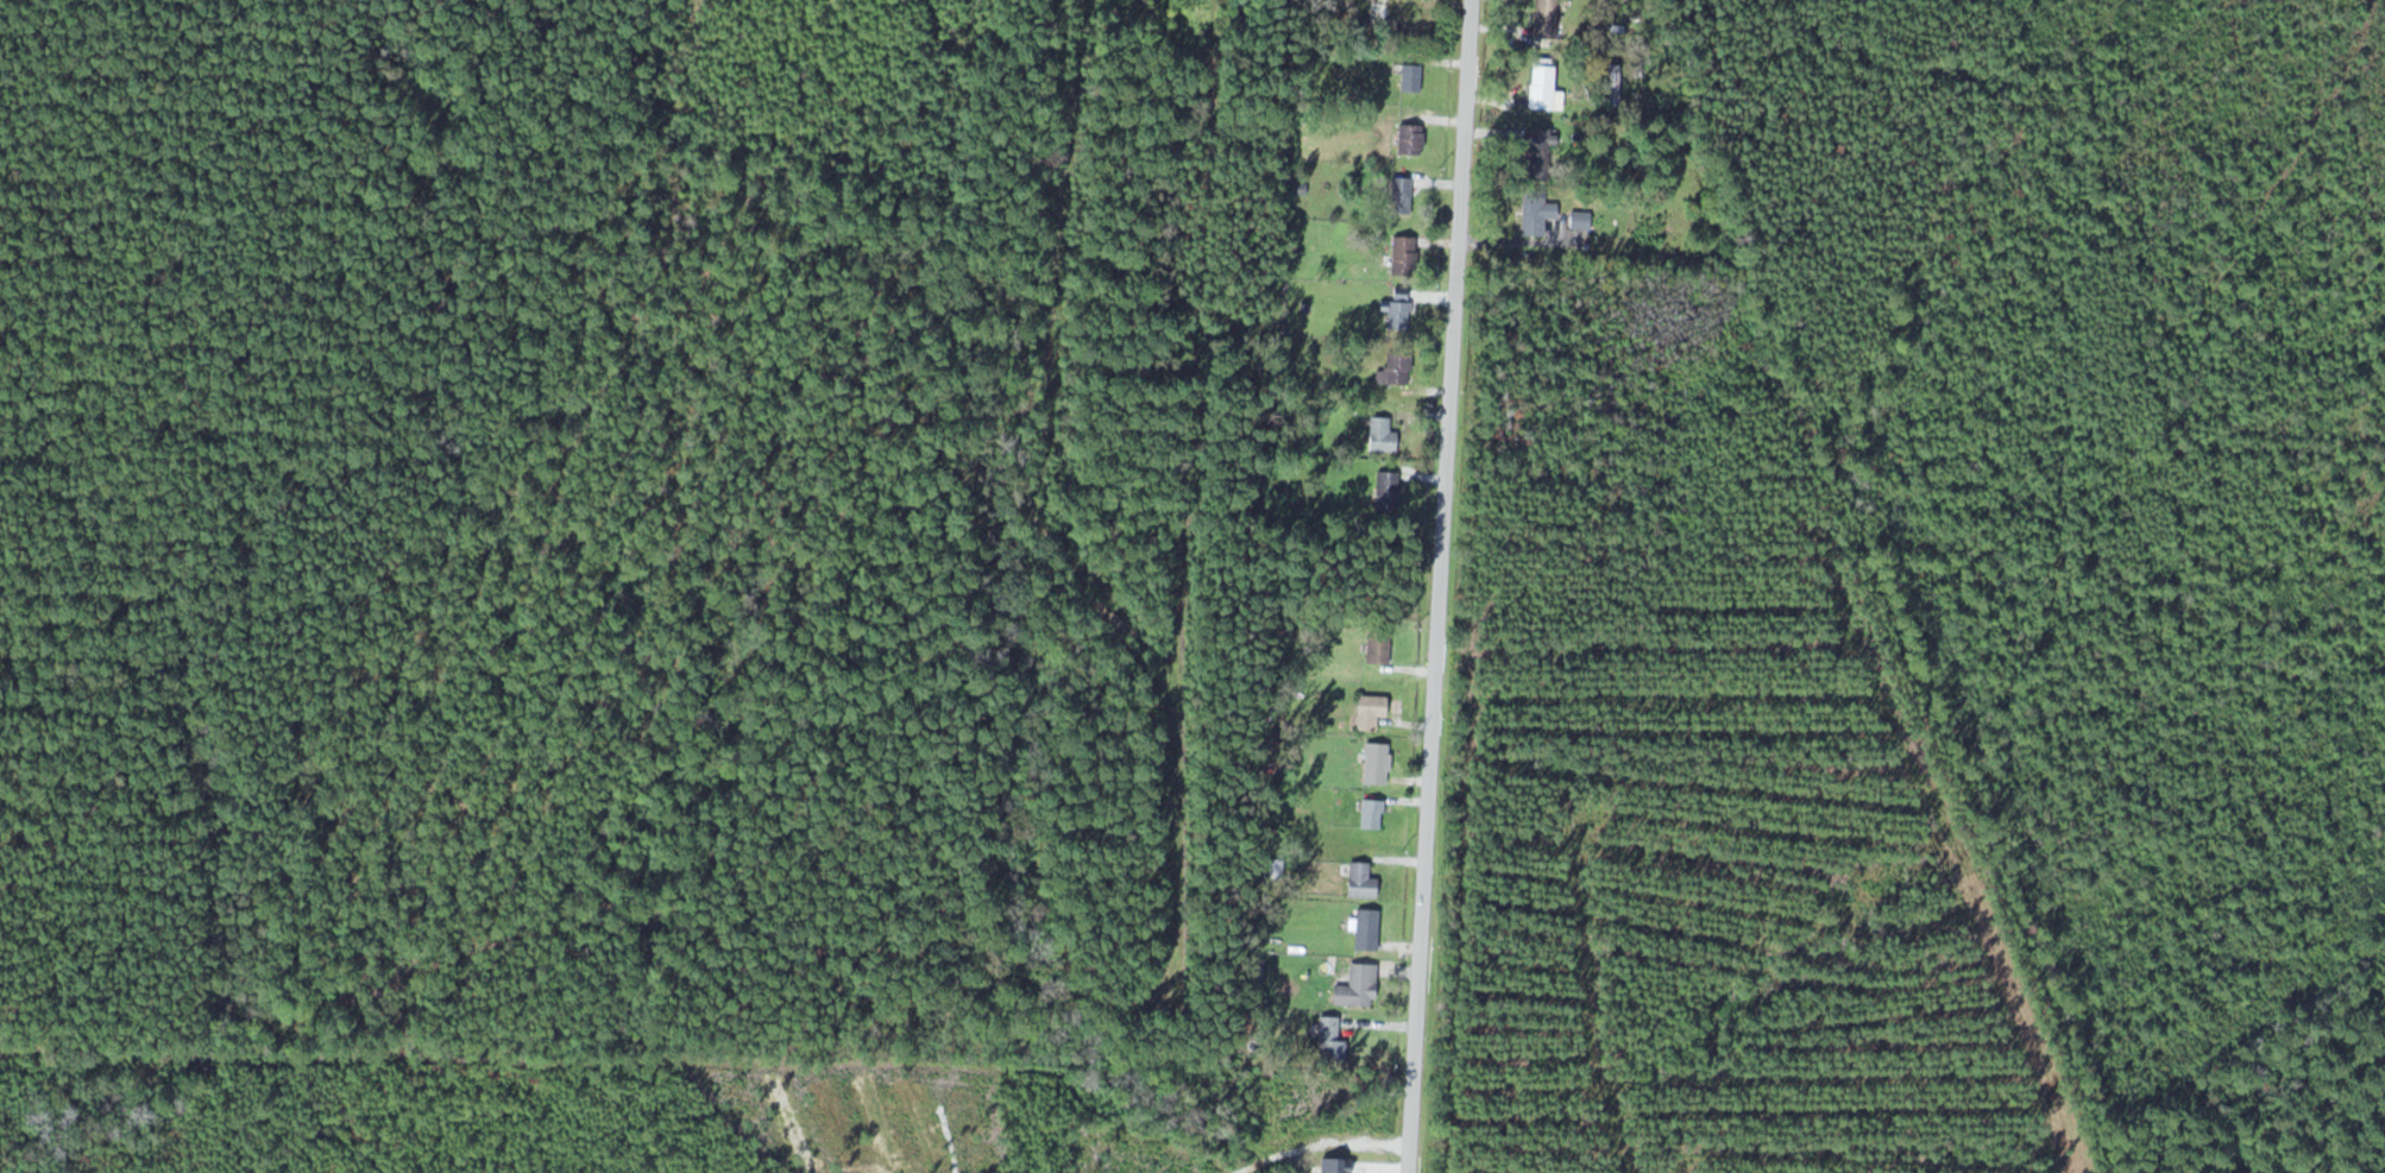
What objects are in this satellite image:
building: (1382, 17)
building: (1541, 21)
building: (1408, 77)
building: (1540, 88)
building: (1408, 139)
building: (1534, 145)
building: (1397, 195)
building: (1533, 212)
building: (1578, 219)
building: (1401, 256)
building: (1397, 315)
building: (1392, 368)
building: (1379, 435)
building: (1384, 492)
road: (1452, 586)
road: (1843, 592)
building: (1376, 647)
building: (1367, 711)
building: (1374, 763)
building: (1368, 814)
building: (1358, 881)
building: (1364, 929)
building: (1354, 988)
building: (1327, 1040)

